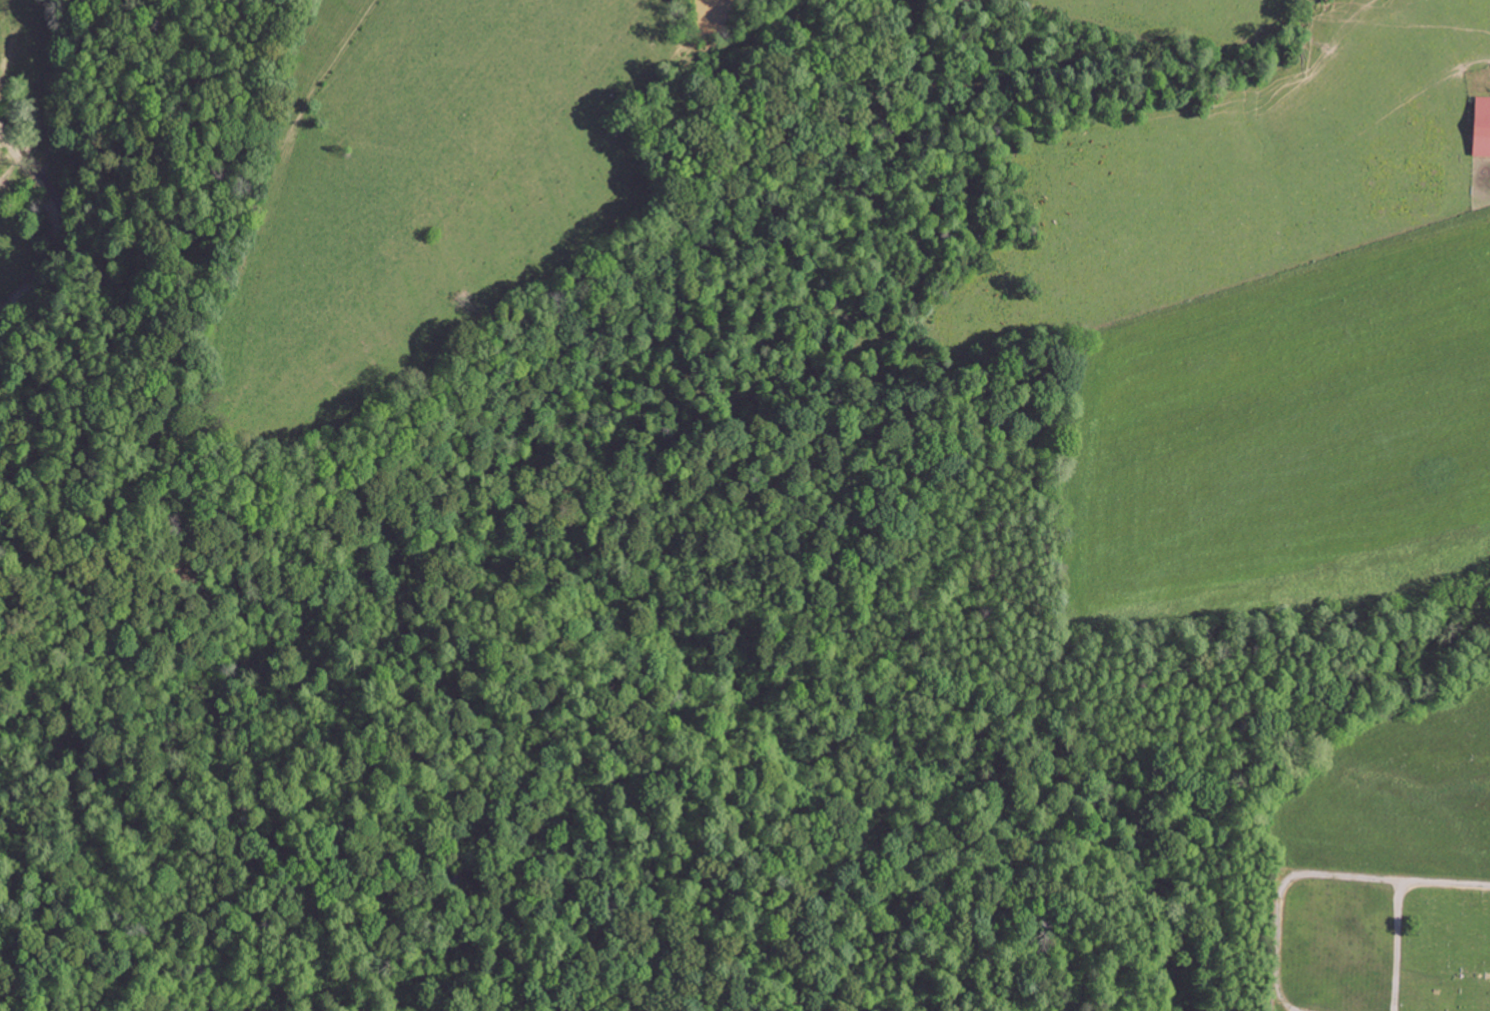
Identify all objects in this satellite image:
building: (1483, 123)
park: (1377, 938)

